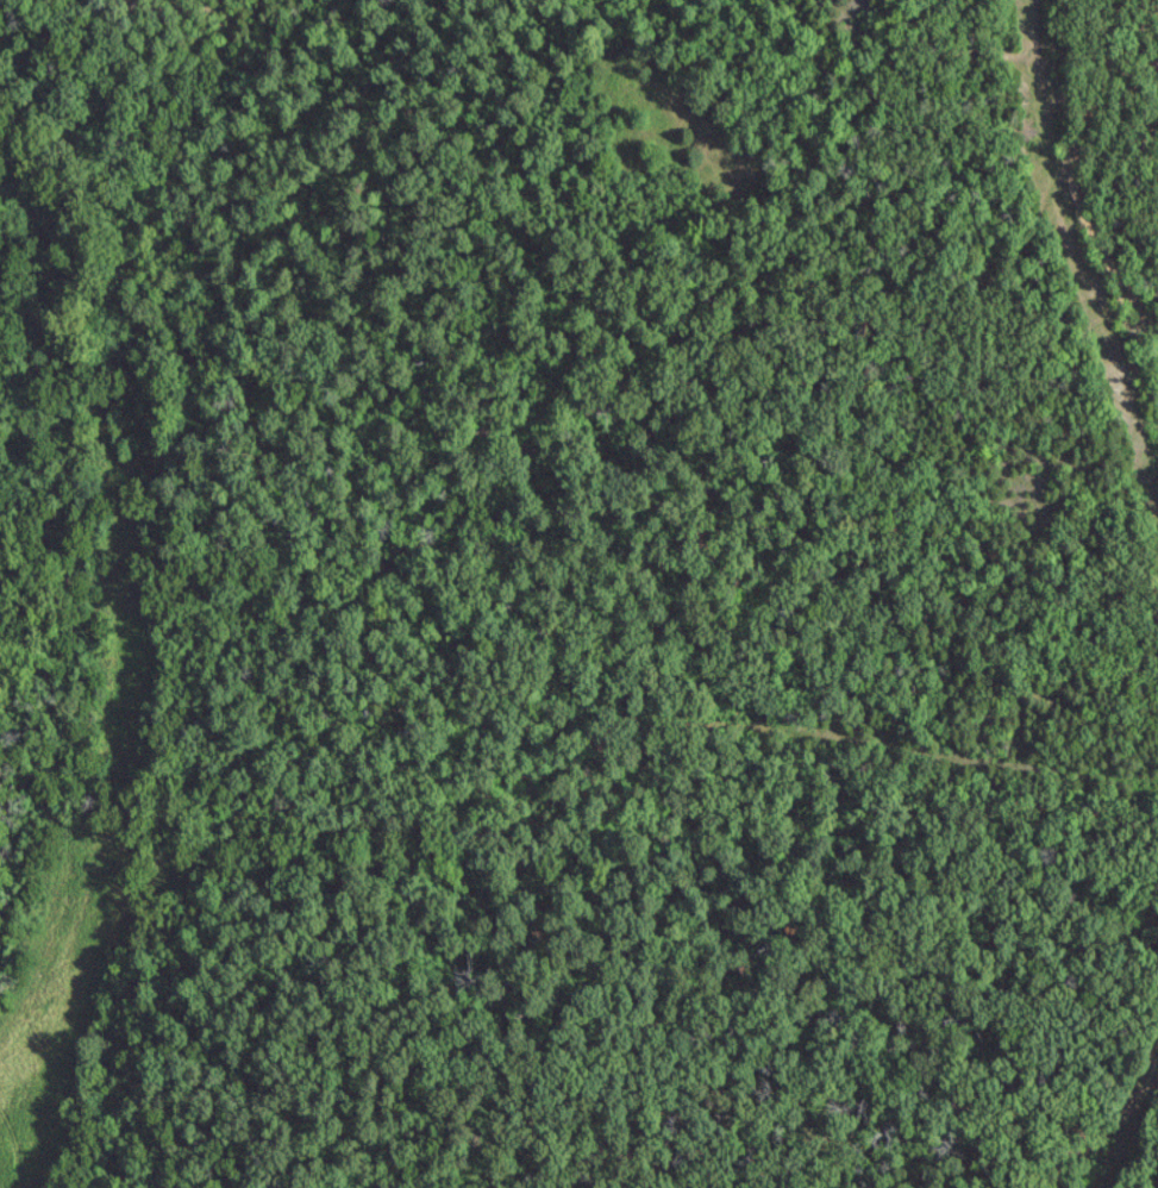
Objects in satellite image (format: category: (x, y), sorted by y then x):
road: (1084, 158)
road: (1114, 1132)

